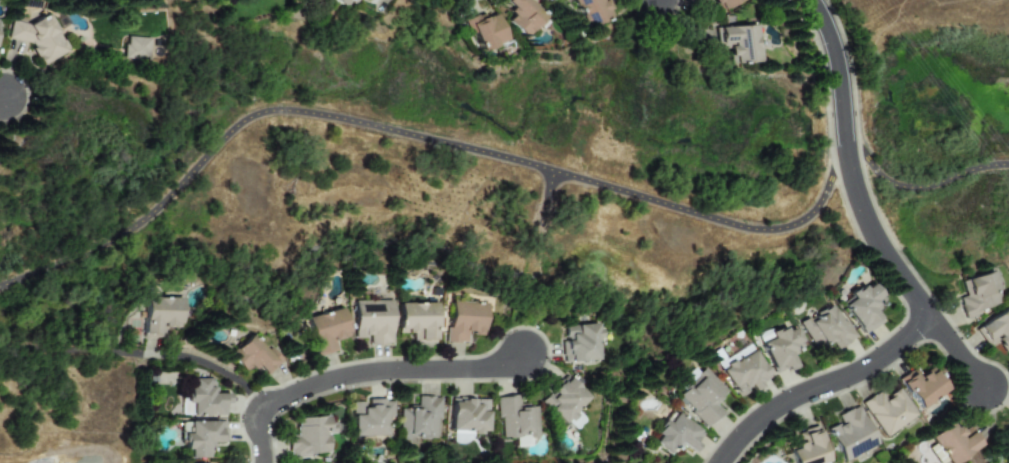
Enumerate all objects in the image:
building: (702, 0)
building: (352, 1)
building: (341, 2)
building: (725, 3)
building: (591, 11)
building: (523, 15)
building: (483, 31)
building: (40, 37)
building: (738, 43)
building: (135, 48)
road: (840, 71)
road: (4, 100)
road: (511, 161)
road: (875, 240)
building: (975, 294)
building: (859, 308)
building: (159, 313)
building: (463, 319)
building: (373, 320)
building: (416, 320)
building: (325, 329)
building: (823, 329)
building: (995, 331)
building: (580, 343)
building: (781, 349)
road: (76, 354)
road: (958, 354)
building: (253, 355)
road: (211, 367)
building: (744, 372)
road: (366, 376)
road: (823, 388)
building: (920, 388)
building: (703, 397)
building: (204, 398)
building: (566, 403)
building: (886, 412)
building: (369, 416)
building: (467, 418)
building: (421, 420)
building: (516, 421)
building: (848, 434)
building: (676, 436)
building: (201, 437)
building: (311, 438)
building: (951, 444)
building: (806, 448)

